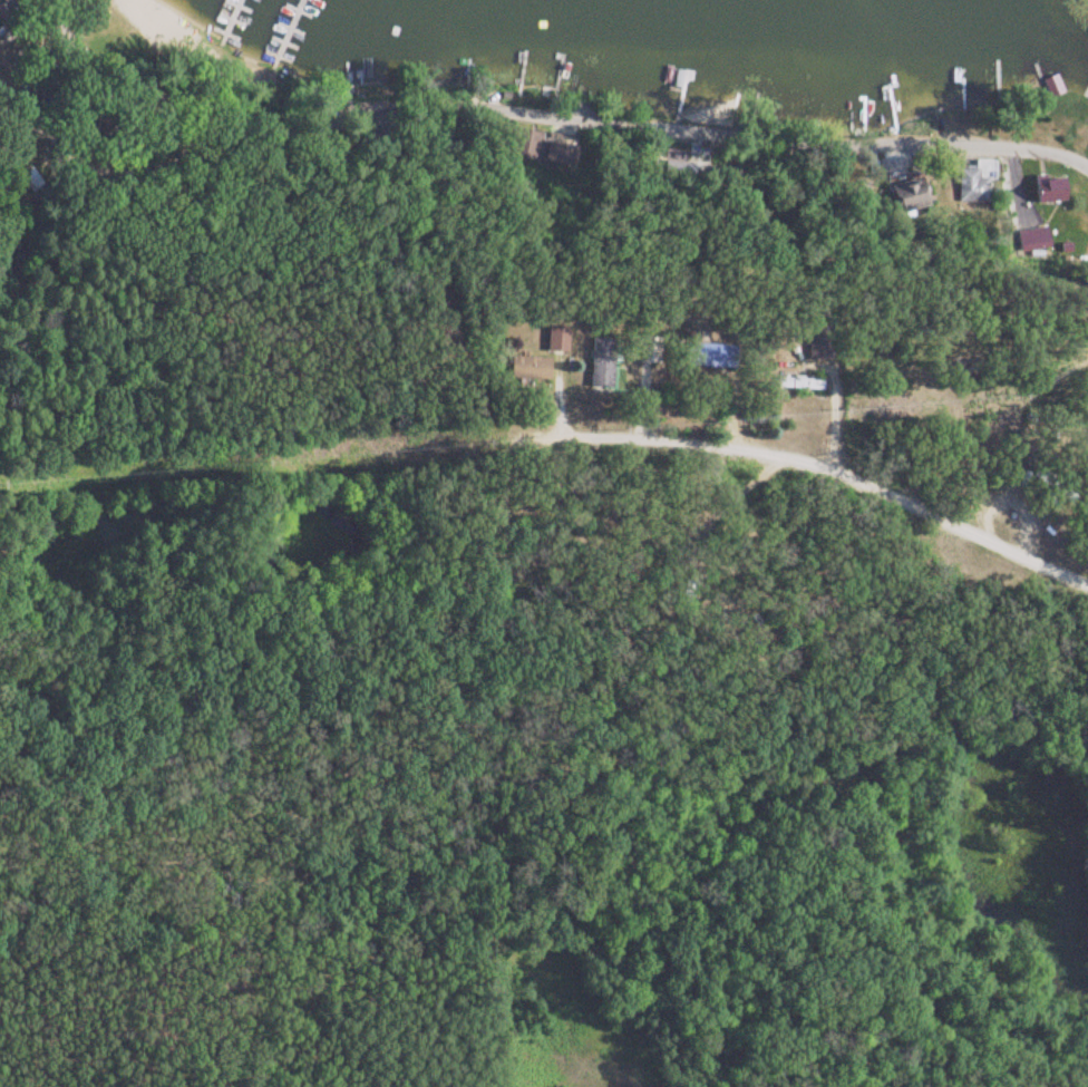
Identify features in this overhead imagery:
road: (32, 26)
building: (1050, 86)
road: (552, 110)
building: (1050, 190)
building: (973, 194)
building: (721, 357)
building: (605, 362)
building: (810, 385)
road: (819, 429)

